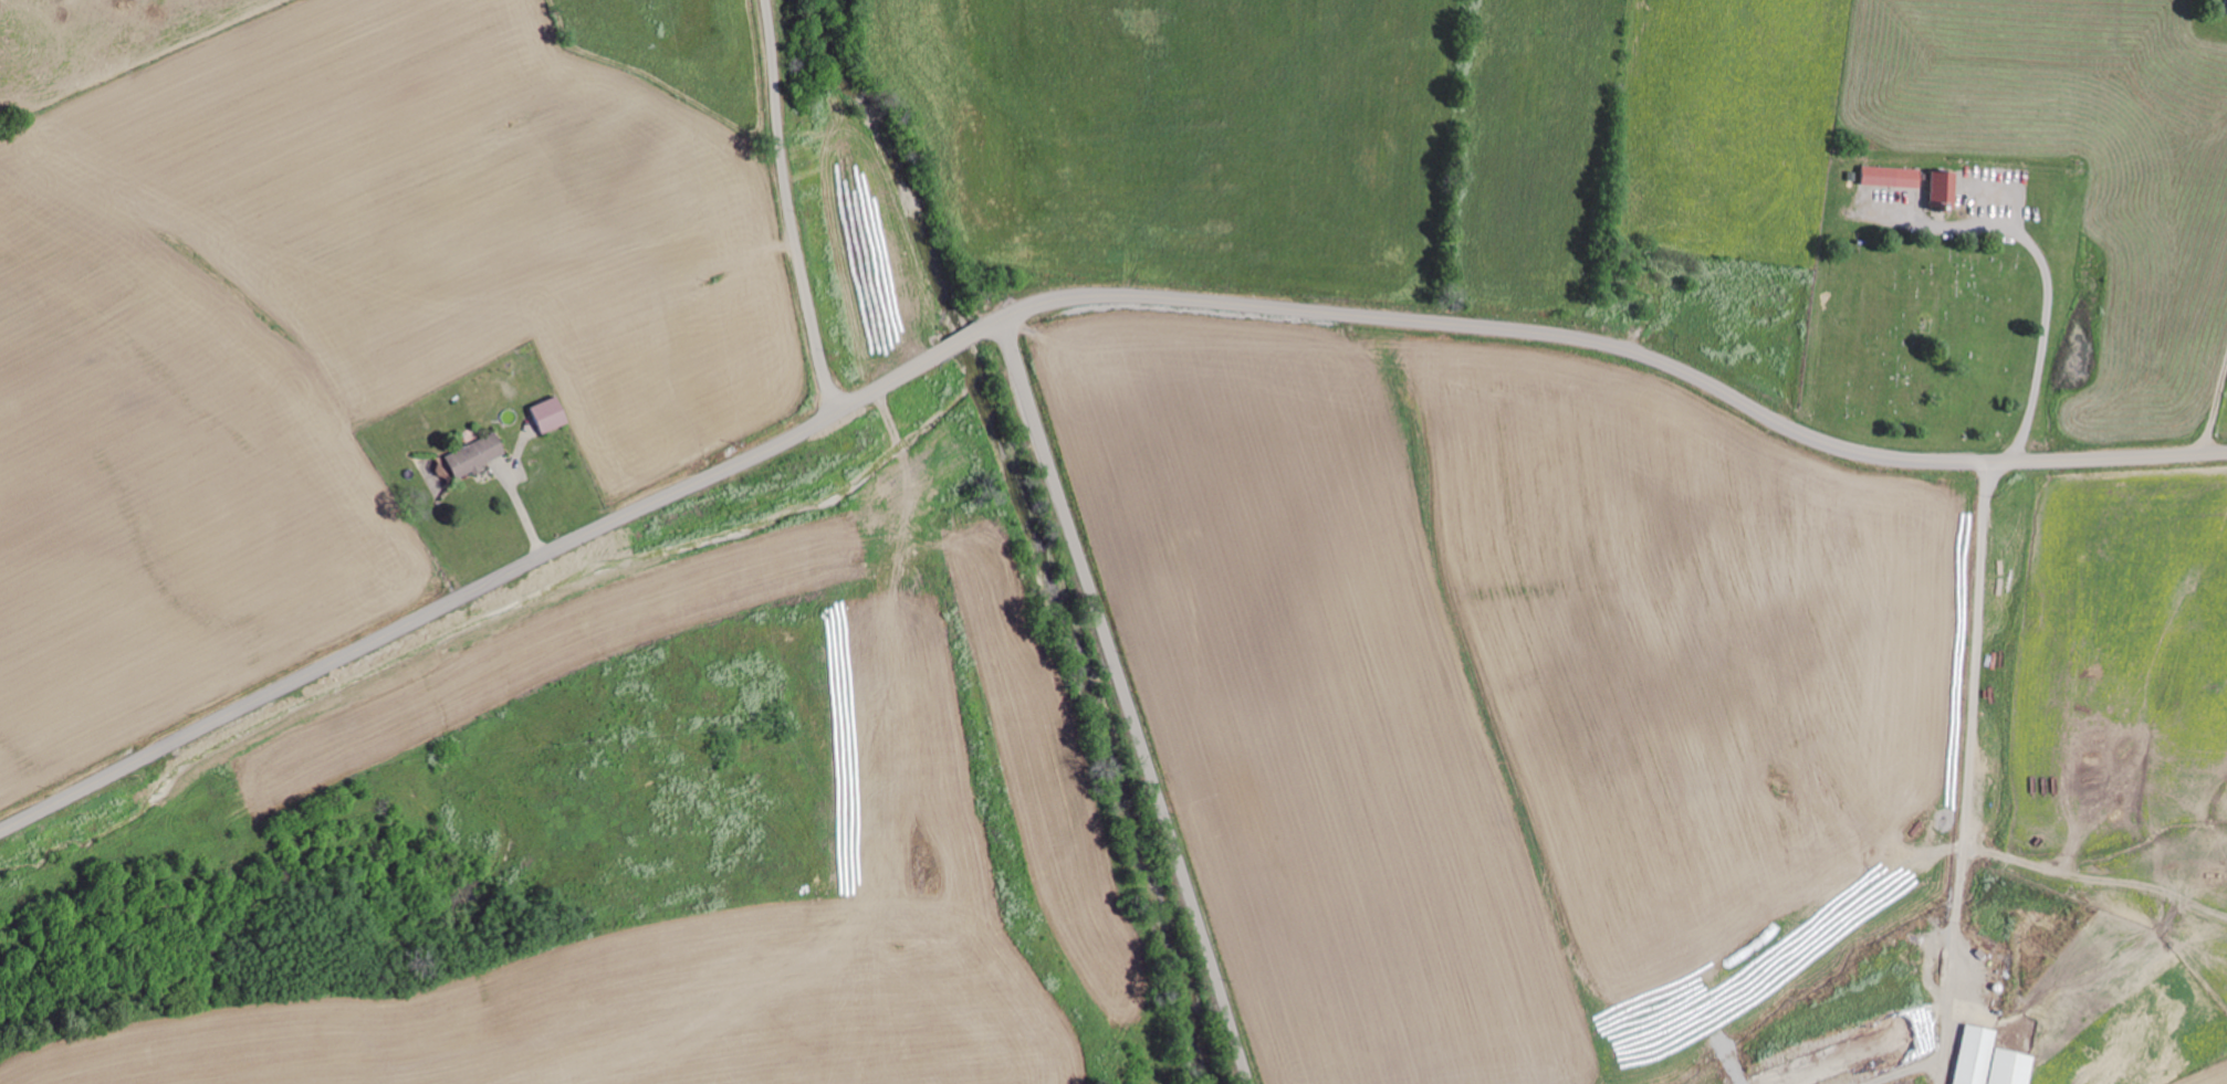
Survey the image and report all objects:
building: (1890, 176)
building: (1941, 189)
road: (785, 209)
road: (1064, 301)
road: (2196, 356)
building: (544, 413)
building: (470, 455)
road: (1955, 633)
road: (1130, 702)
building: (1986, 1060)

